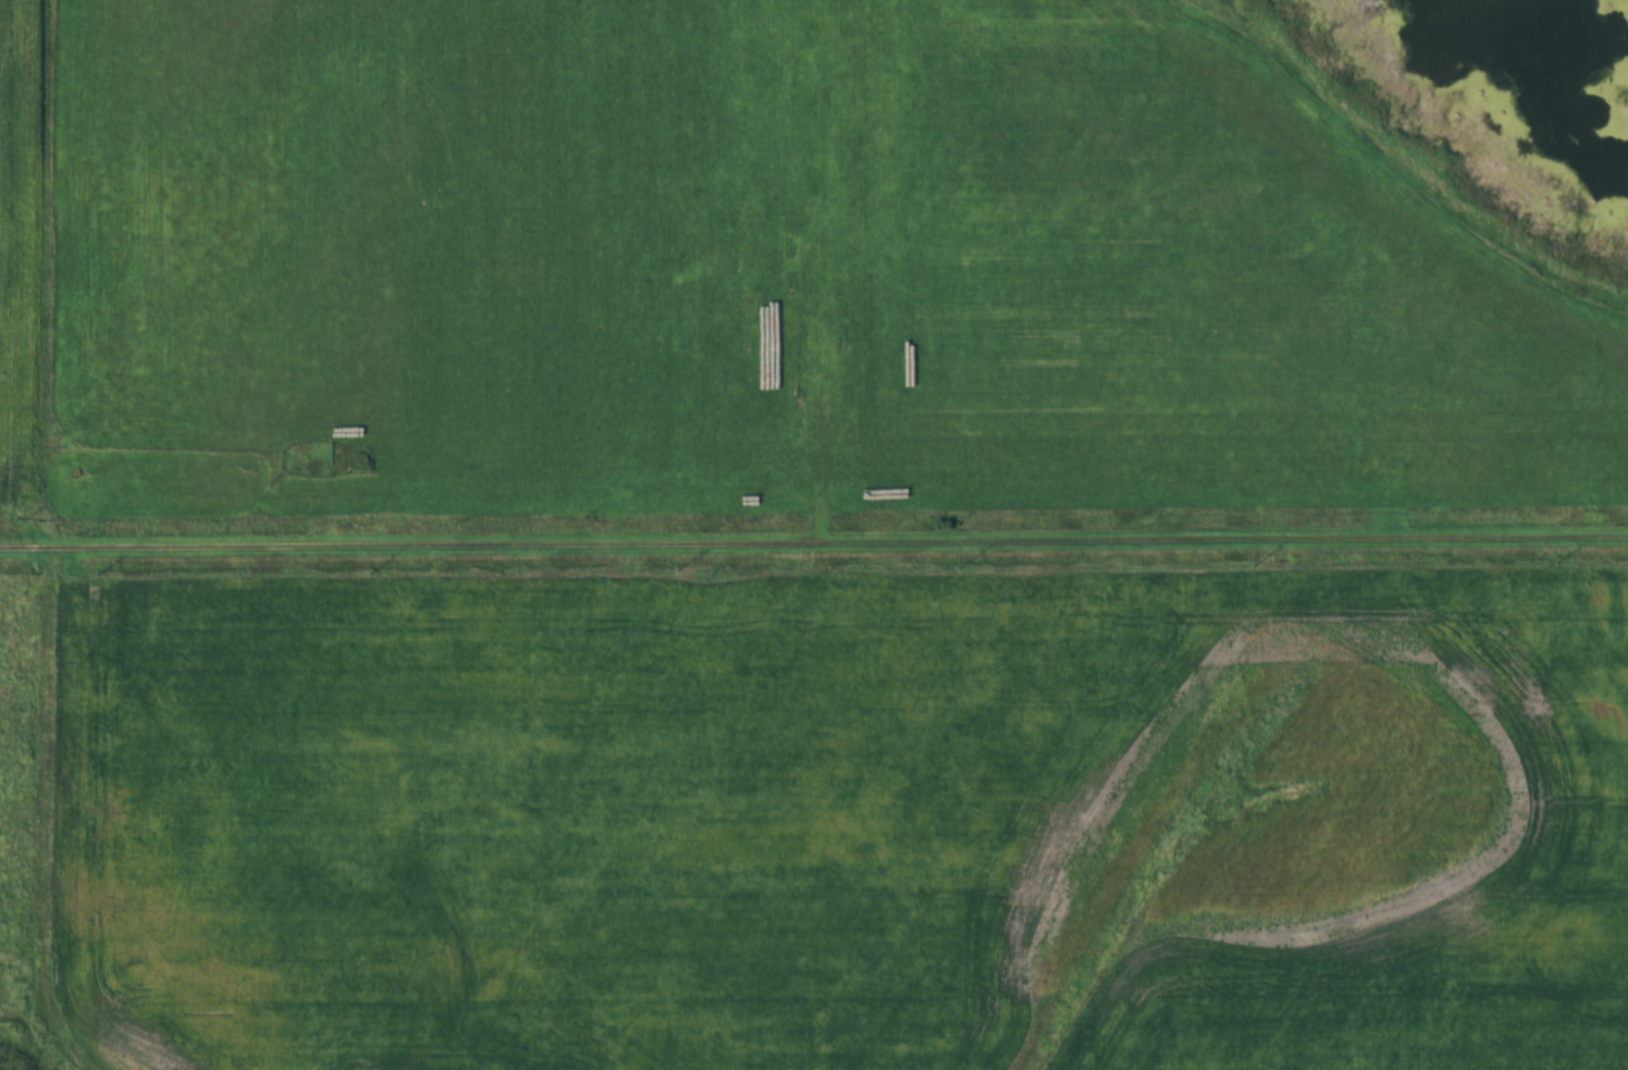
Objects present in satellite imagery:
road: (814, 544)

